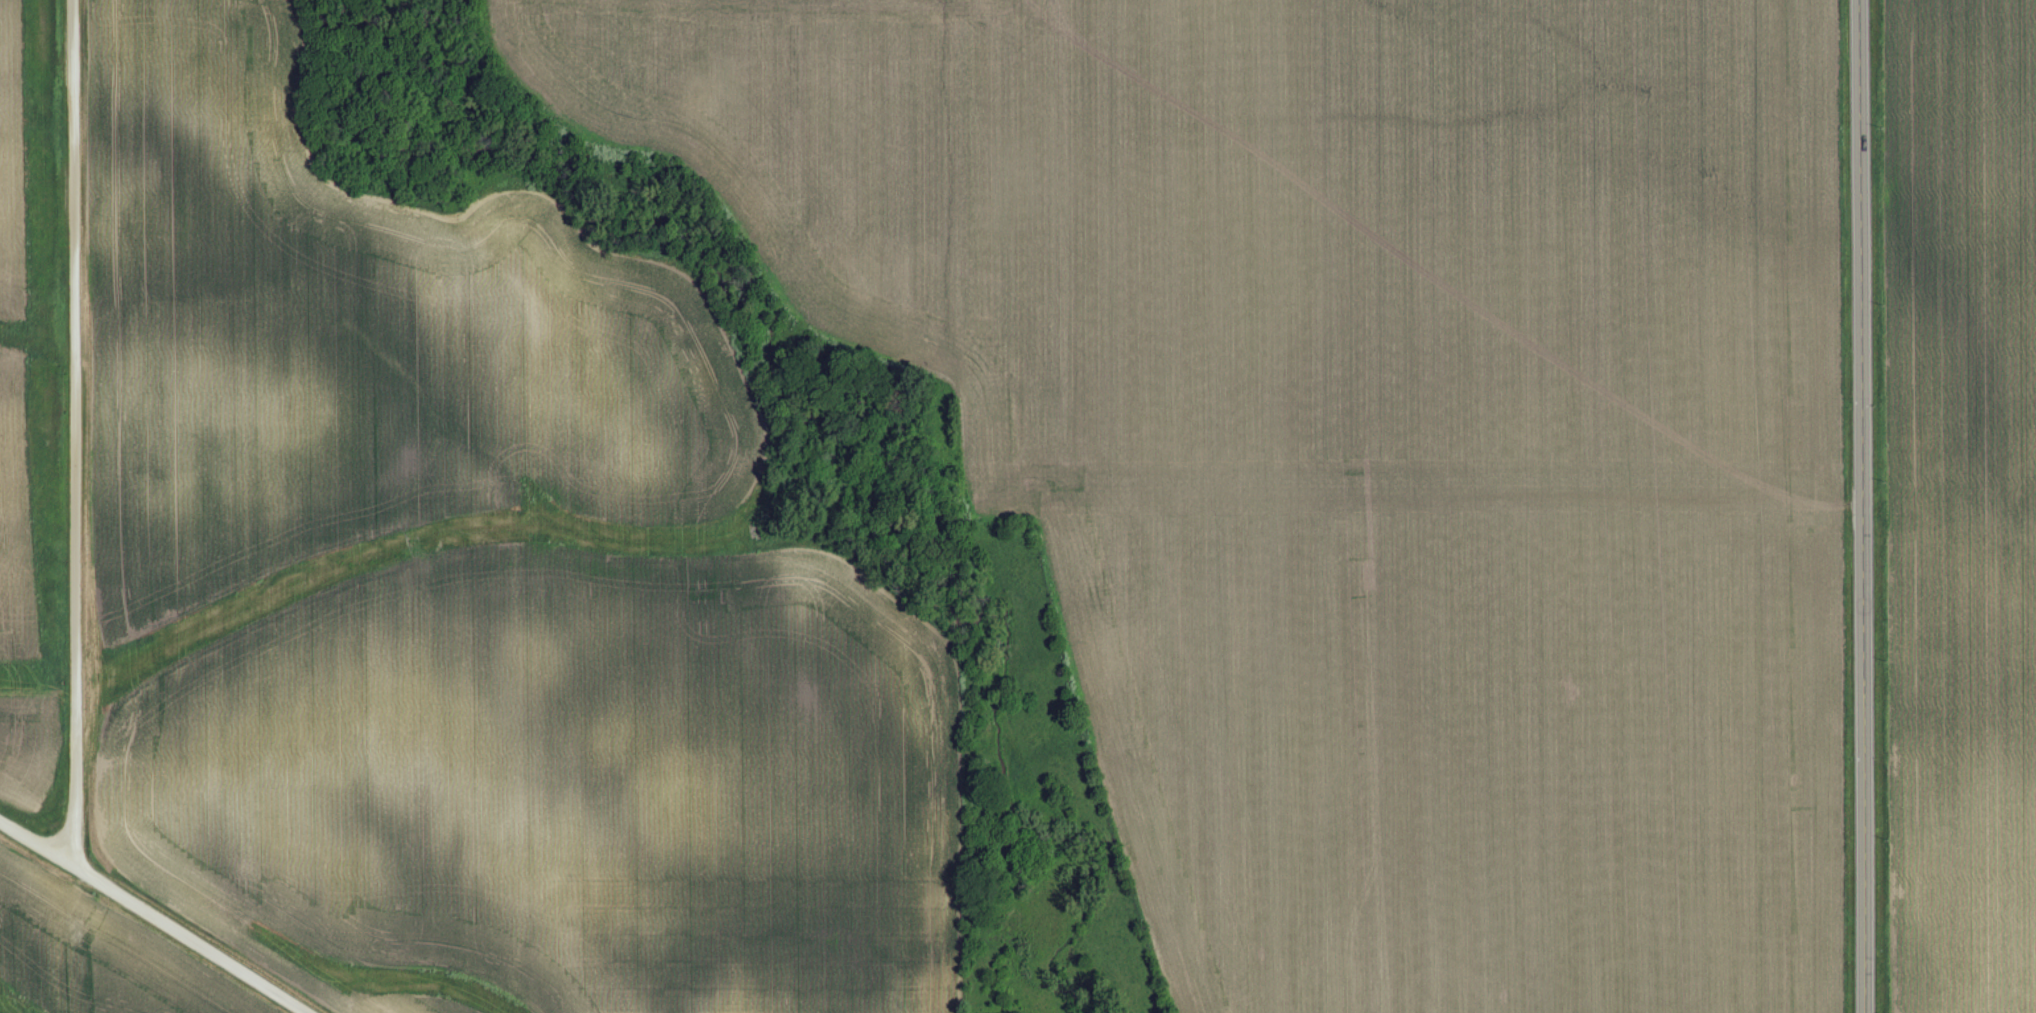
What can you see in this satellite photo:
road: (73, 432)
road: (1864, 506)
road: (151, 917)

